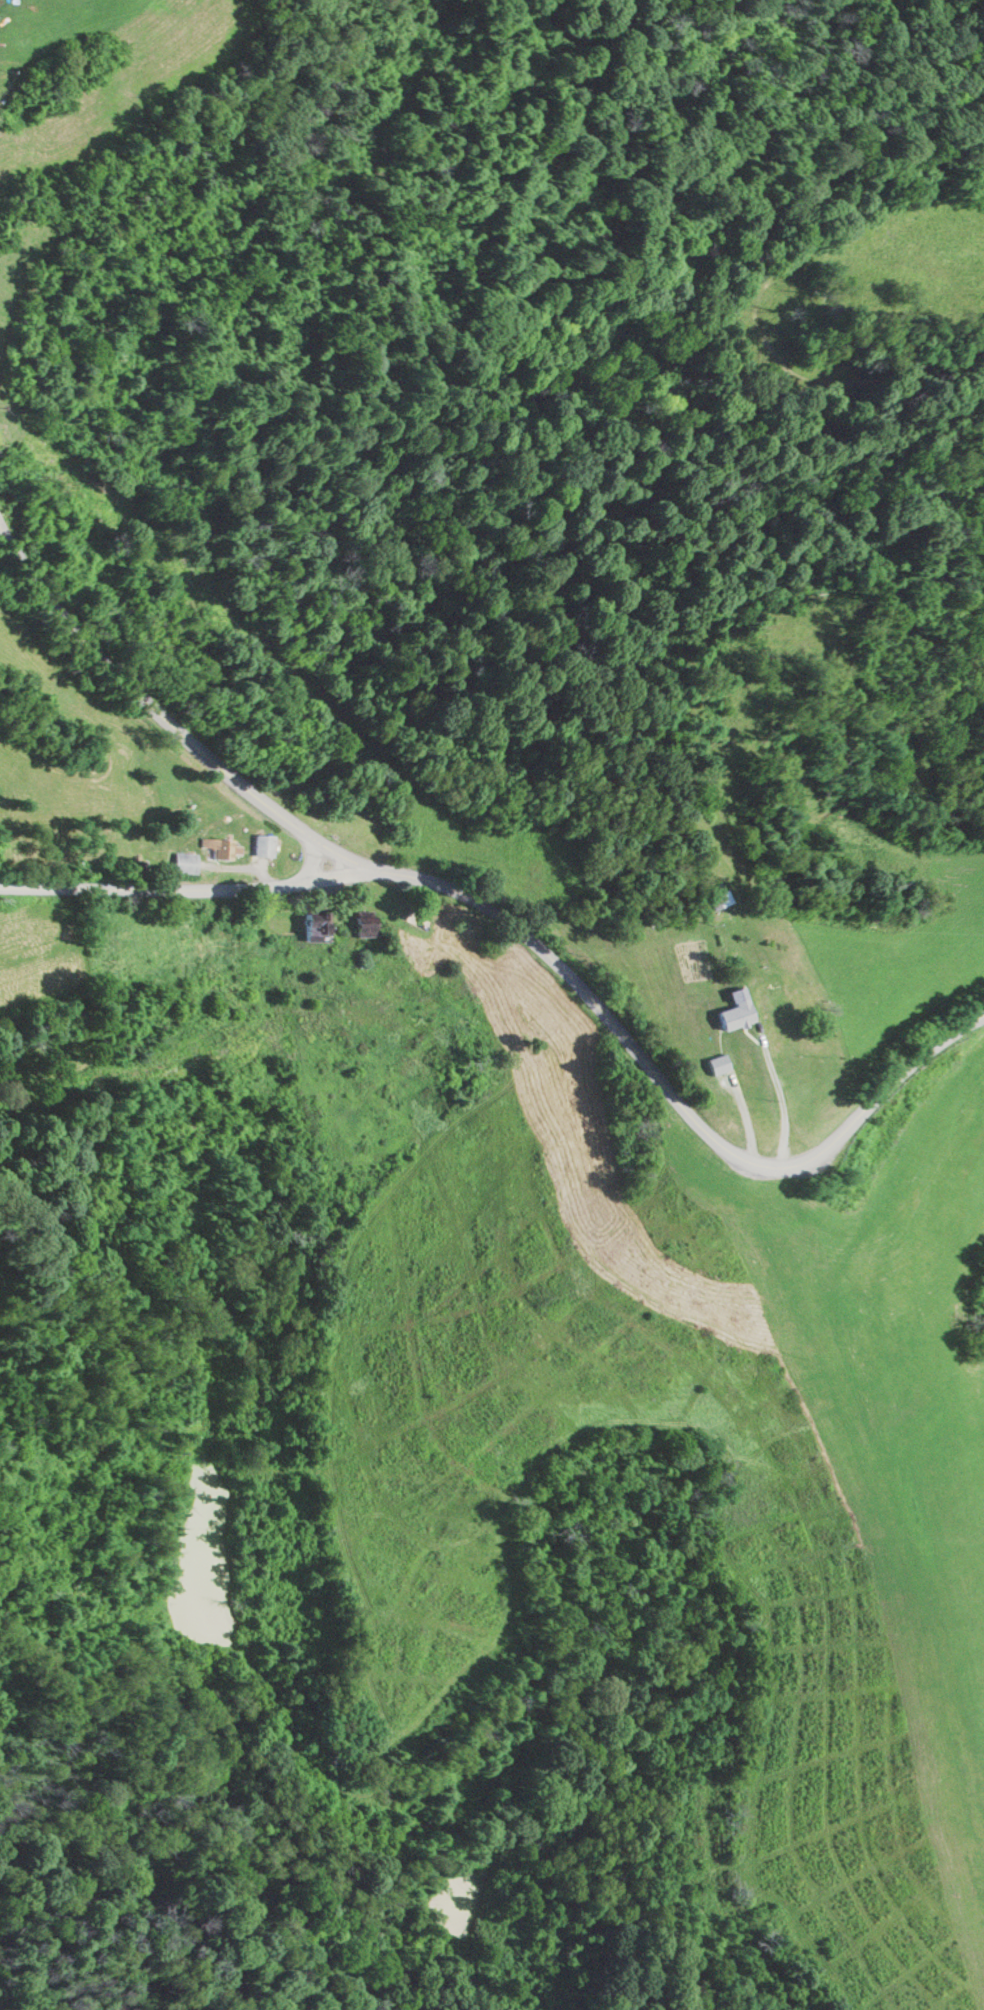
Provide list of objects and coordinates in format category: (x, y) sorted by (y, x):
road: (159, 708)
building: (263, 846)
building: (221, 848)
building: (185, 863)
road: (172, 888)
building: (720, 900)
building: (421, 921)
building: (364, 924)
building: (313, 928)
building: (780, 996)
road: (666, 1084)
road: (779, 1093)
road: (748, 1119)

